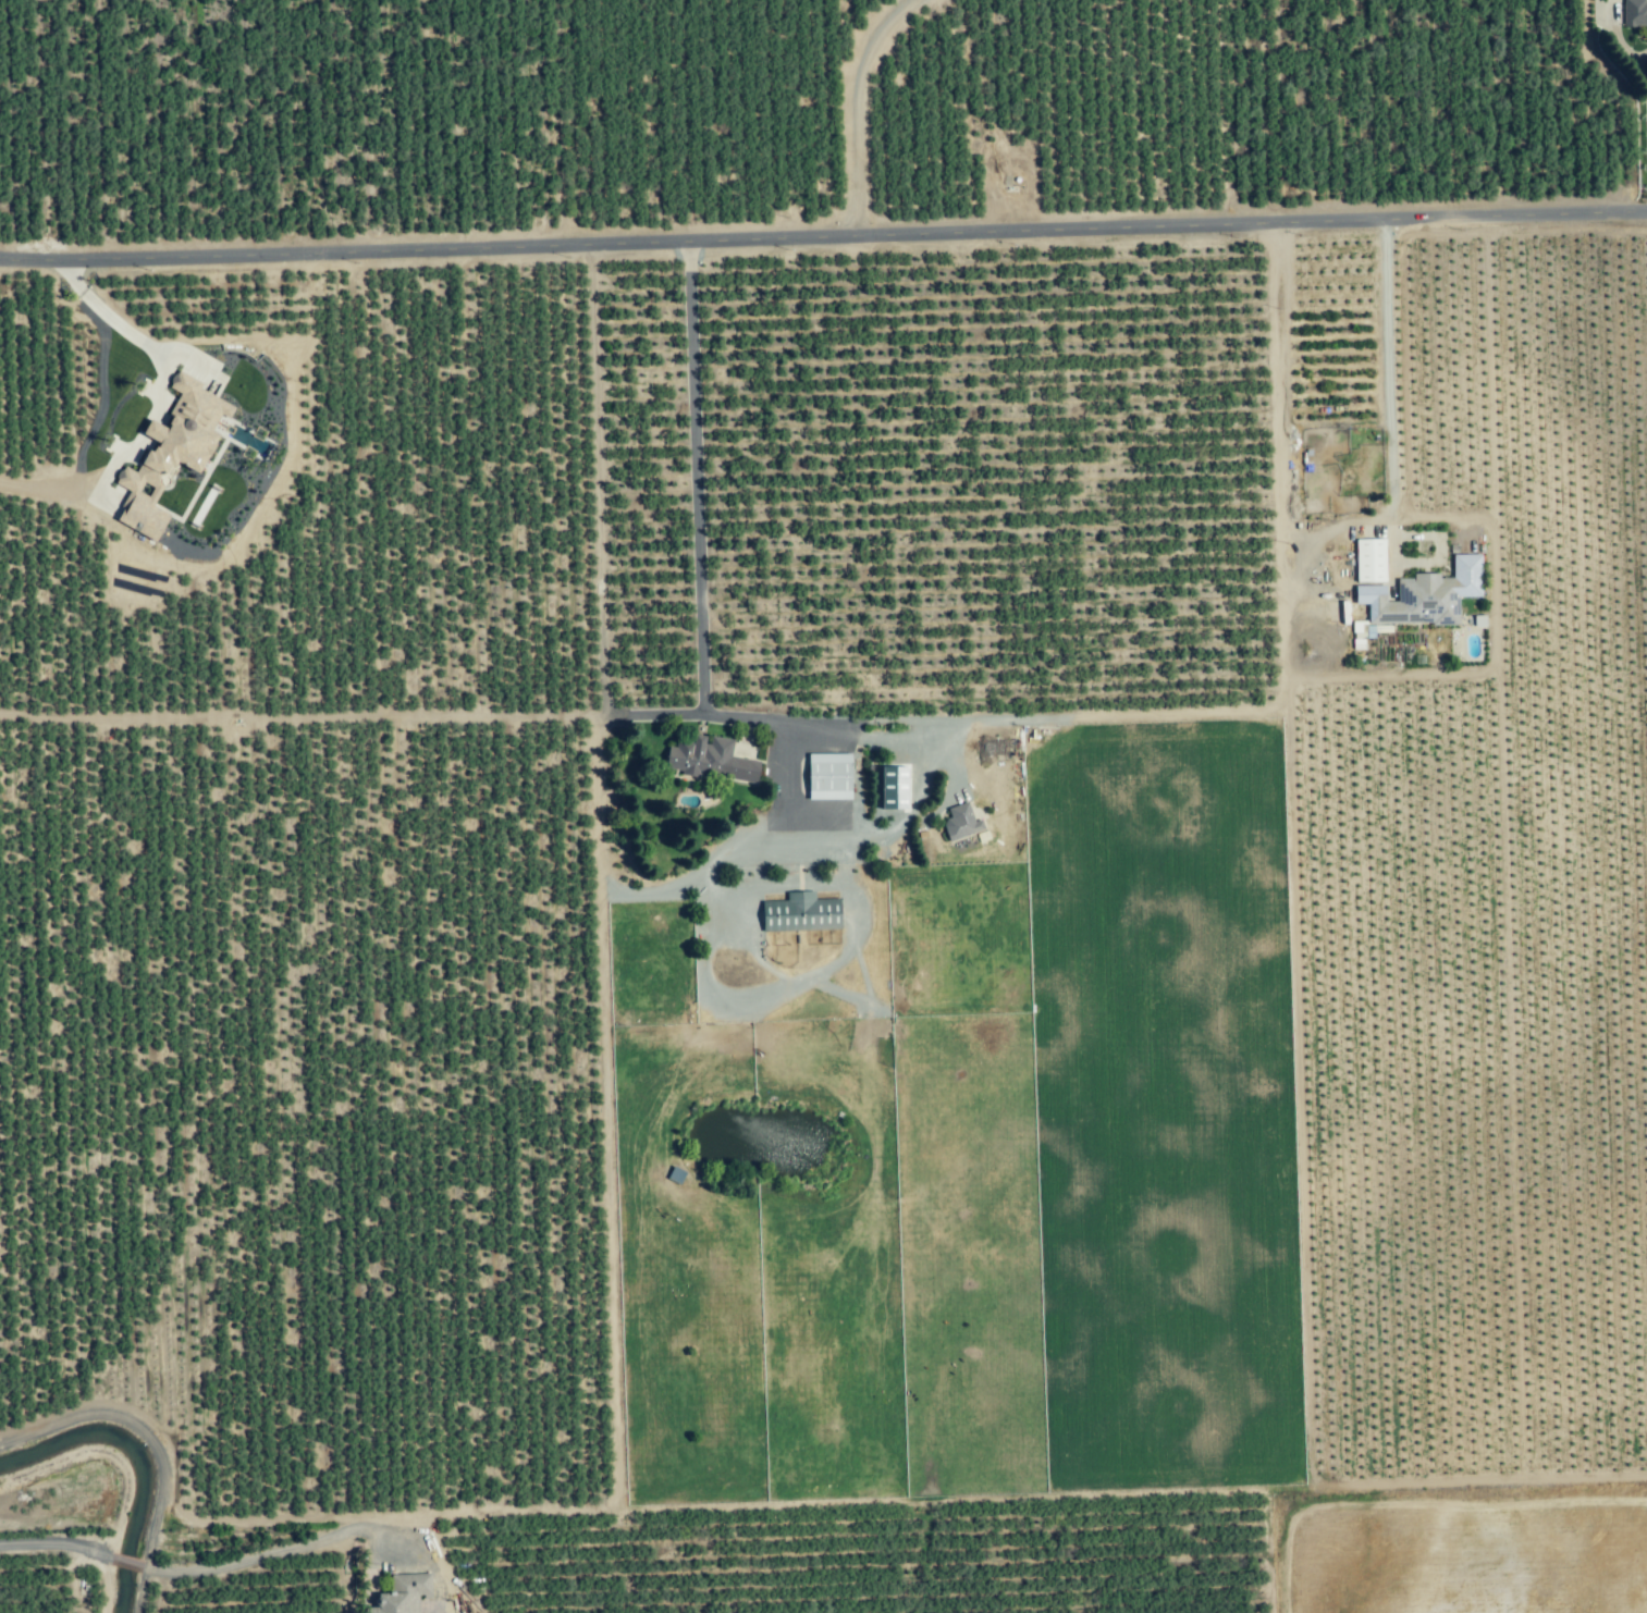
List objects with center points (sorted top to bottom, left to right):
building: (1636, 13)
road: (853, 104)
road: (823, 229)
road: (1276, 382)
road: (90, 398)
road: (1388, 411)
building: (190, 428)
building: (1318, 509)
building: (146, 518)
building: (1373, 559)
building: (1475, 577)
building: (1421, 602)
road: (1147, 714)
road: (820, 726)
road: (784, 731)
building: (713, 760)
building: (832, 777)
crop: (843, 817)
building: (964, 822)
building: (802, 913)
road: (610, 1307)
river: (124, 1468)
road: (197, 1569)
building: (405, 1593)

